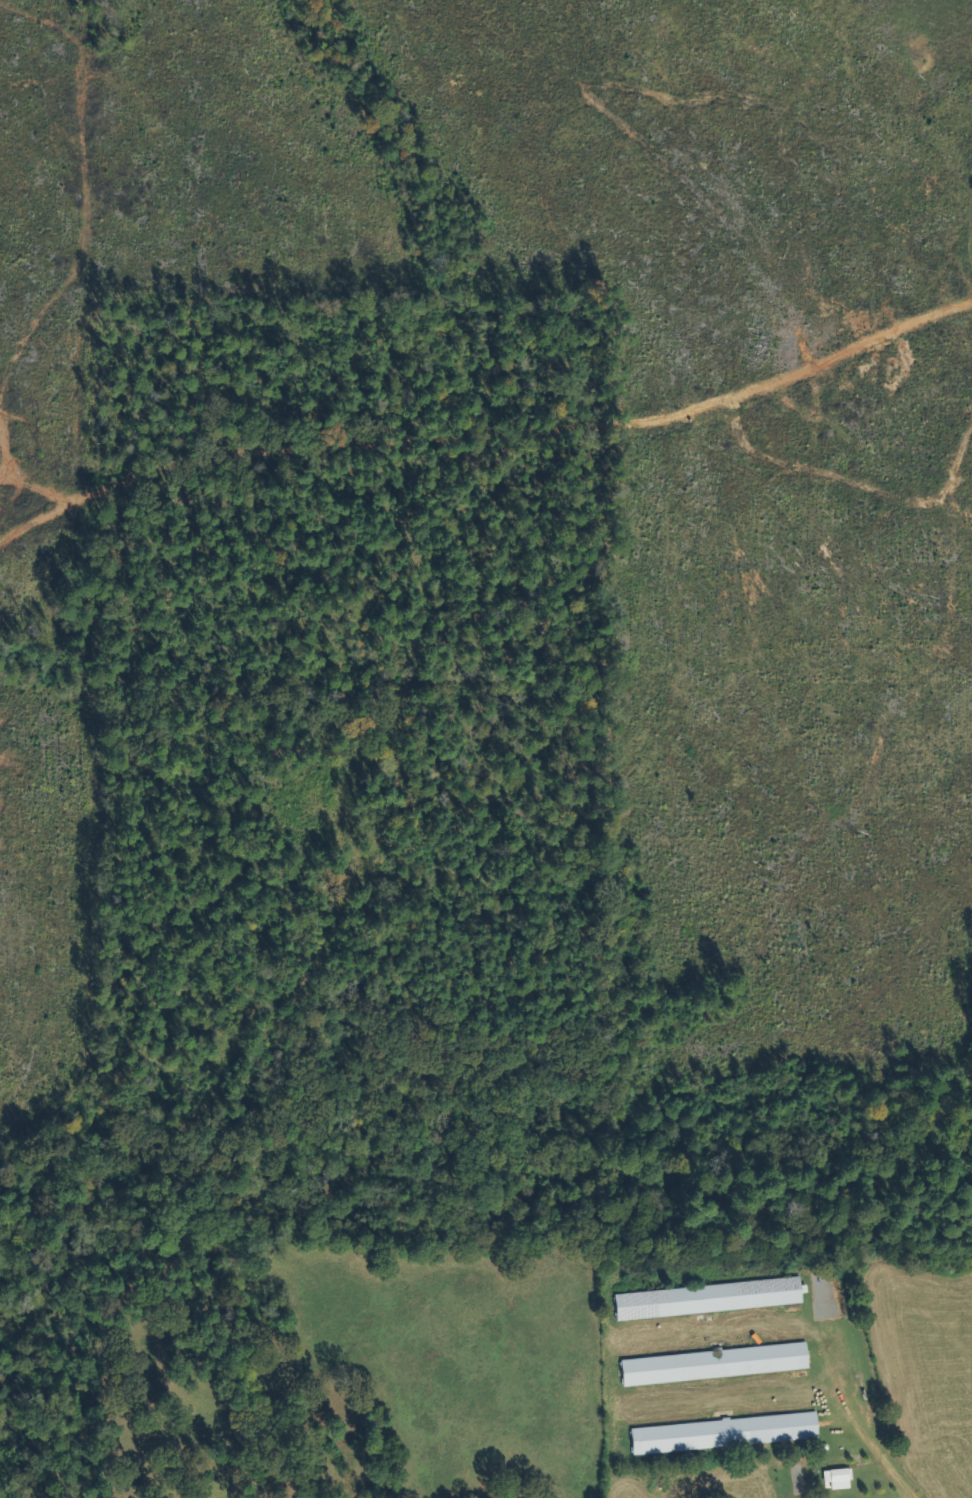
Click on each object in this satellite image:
building: (711, 1299)
building: (717, 1365)
building: (727, 1434)
building: (841, 1479)

